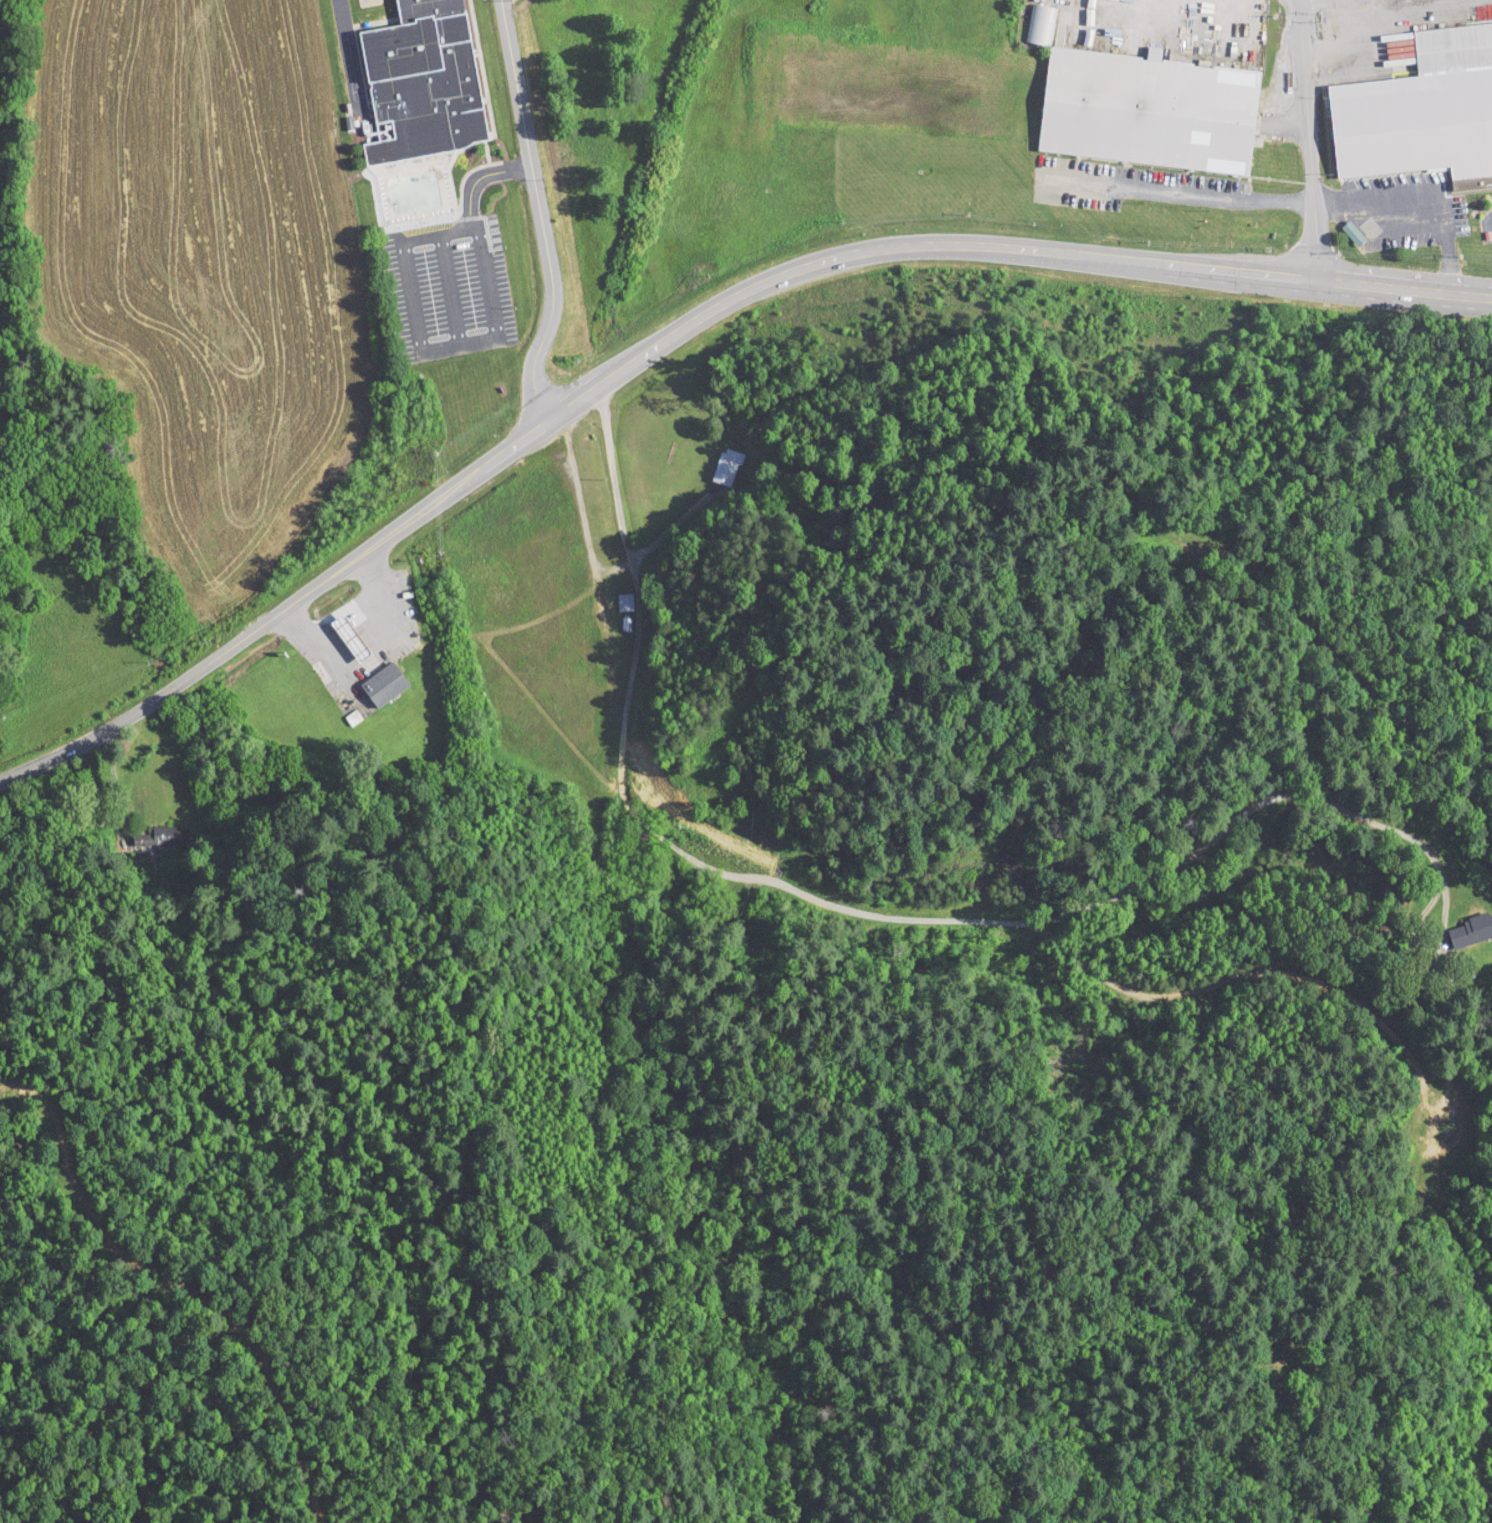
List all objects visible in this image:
road: (1321, 27)
building: (420, 87)
building: (1142, 108)
building: (1419, 108)
road: (1308, 139)
road: (477, 177)
road: (1194, 192)
road: (1417, 207)
road: (536, 212)
road: (1489, 220)
road: (972, 246)
parking lot: (447, 287)
road: (448, 287)
road: (1437, 294)
road: (427, 345)
road: (521, 437)
building: (726, 467)
road: (636, 592)
building: (623, 601)
building: (347, 636)
road: (230, 647)
building: (383, 682)
road: (114, 780)
road: (1128, 889)
building: (1469, 929)
building: (1452, 1139)

